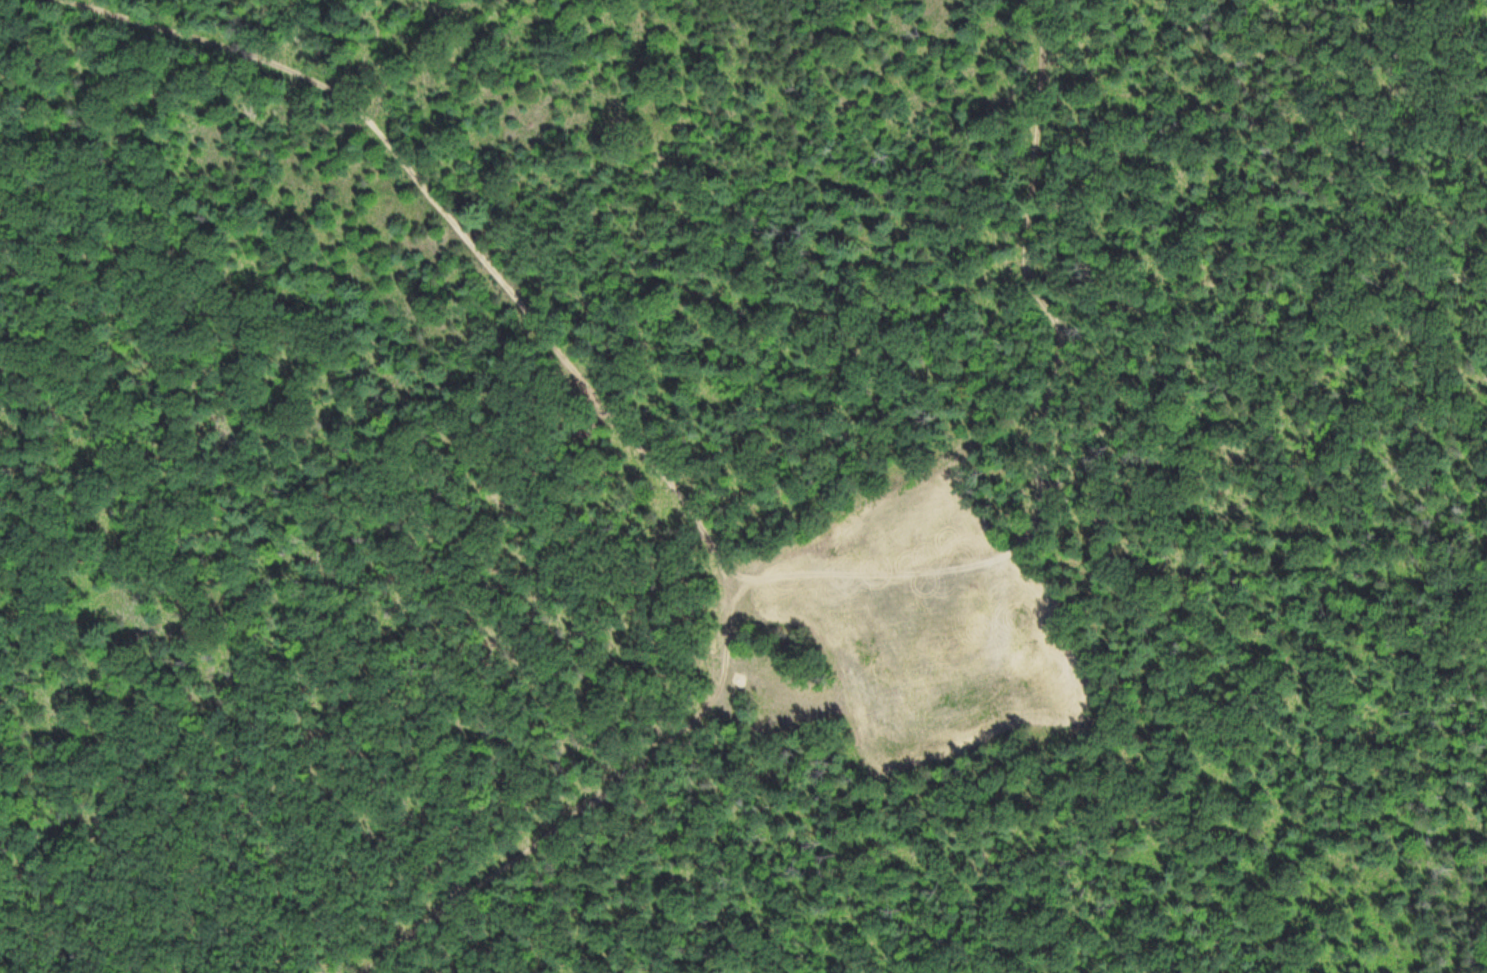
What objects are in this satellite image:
road: (528, 388)
road: (1044, 413)
road: (632, 431)

